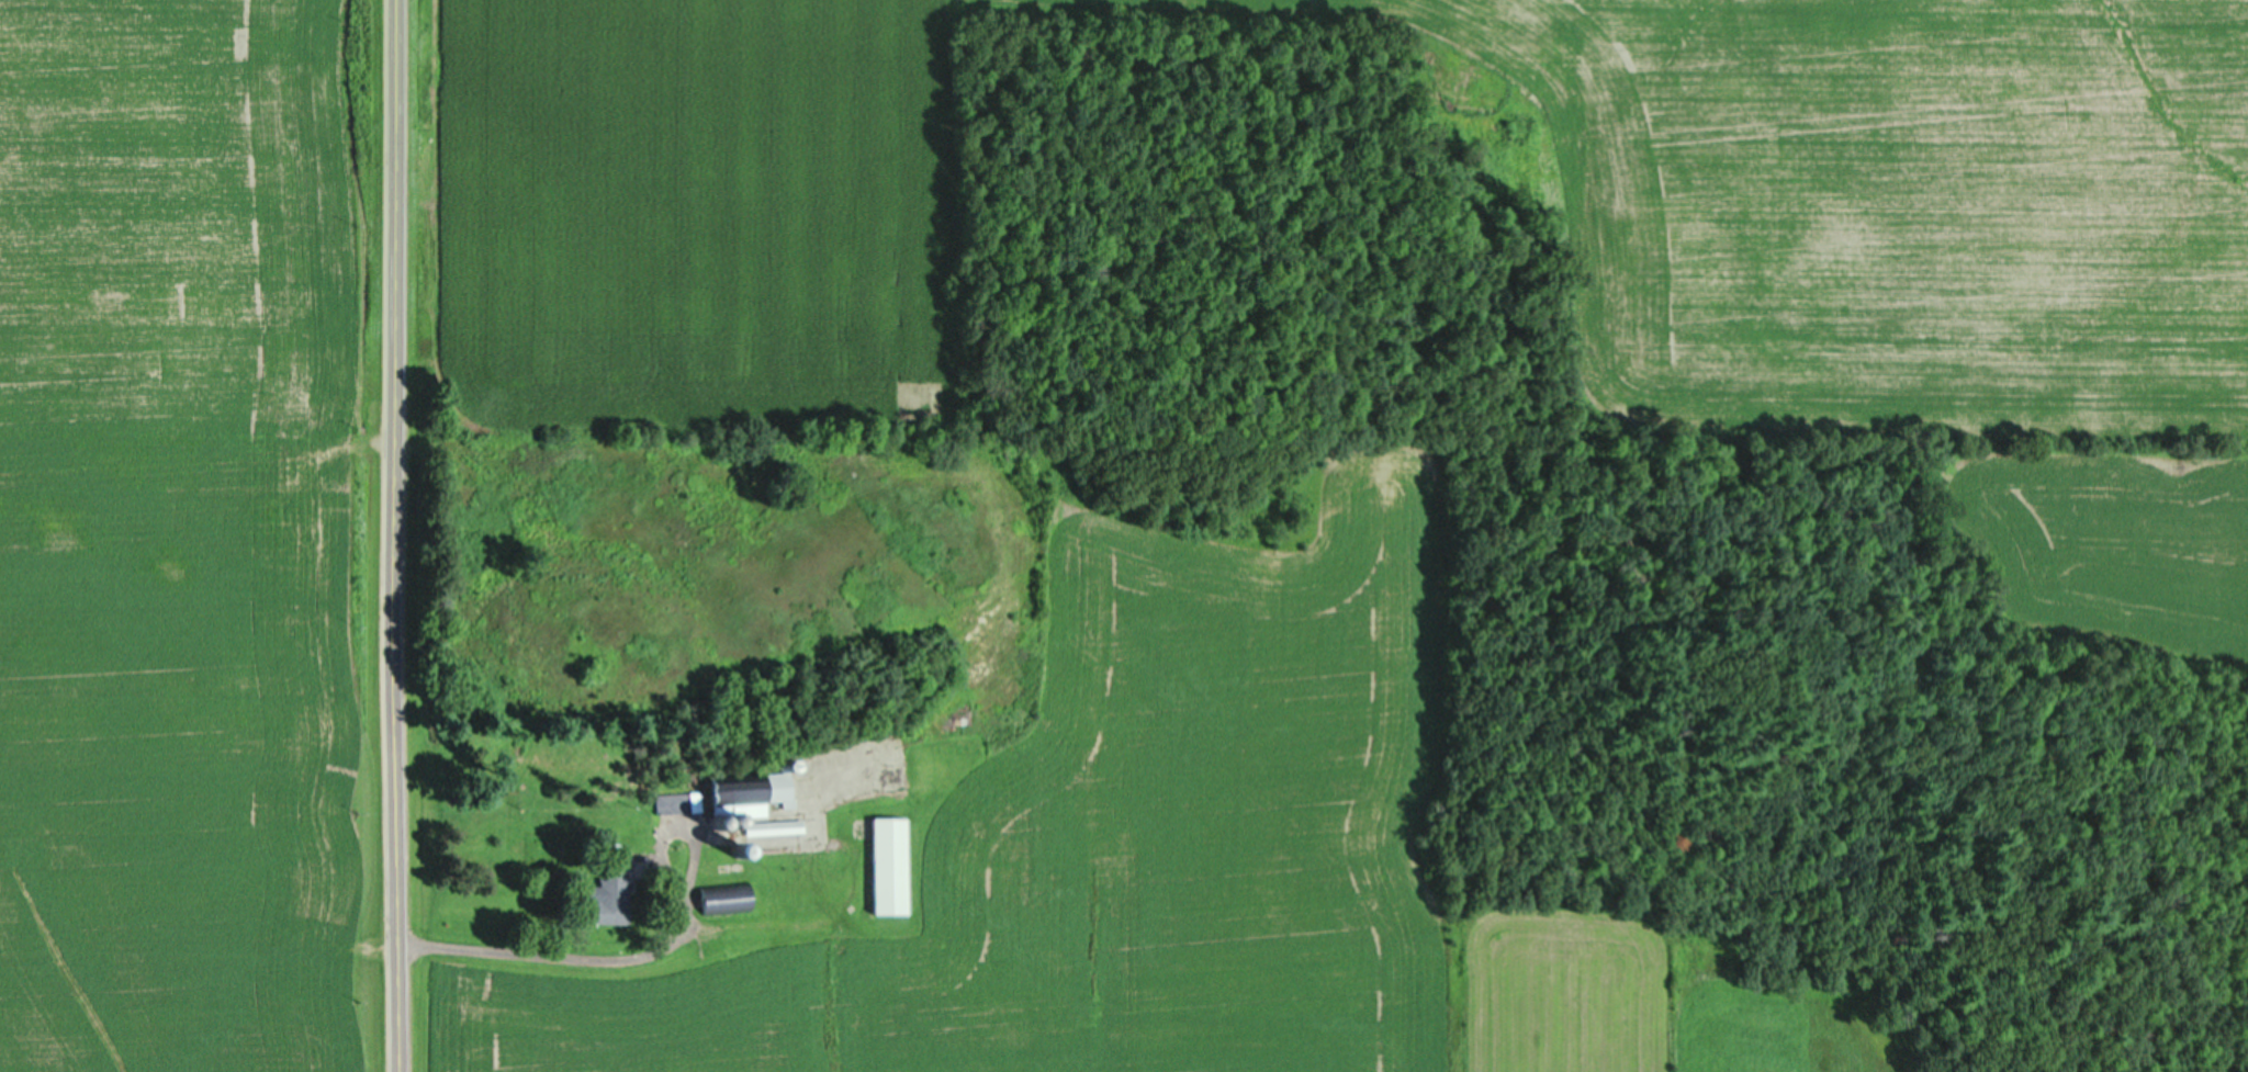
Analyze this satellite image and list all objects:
road: (396, 535)
building: (750, 794)
building: (674, 803)
building: (774, 827)
building: (539, 847)
building: (888, 865)
building: (611, 889)
road: (641, 951)

